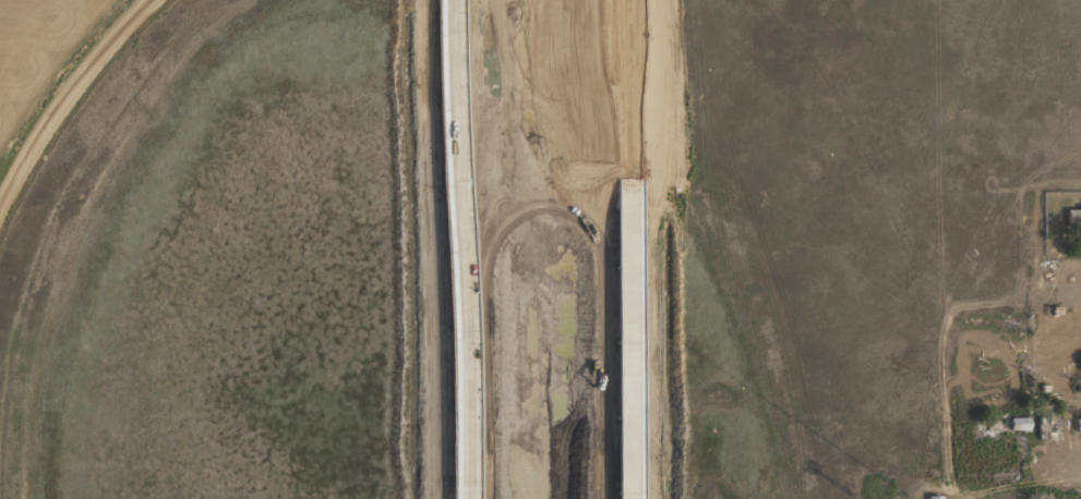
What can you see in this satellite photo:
road: (64, 96)
road: (629, 248)
road: (455, 249)
building: (1080, 370)

